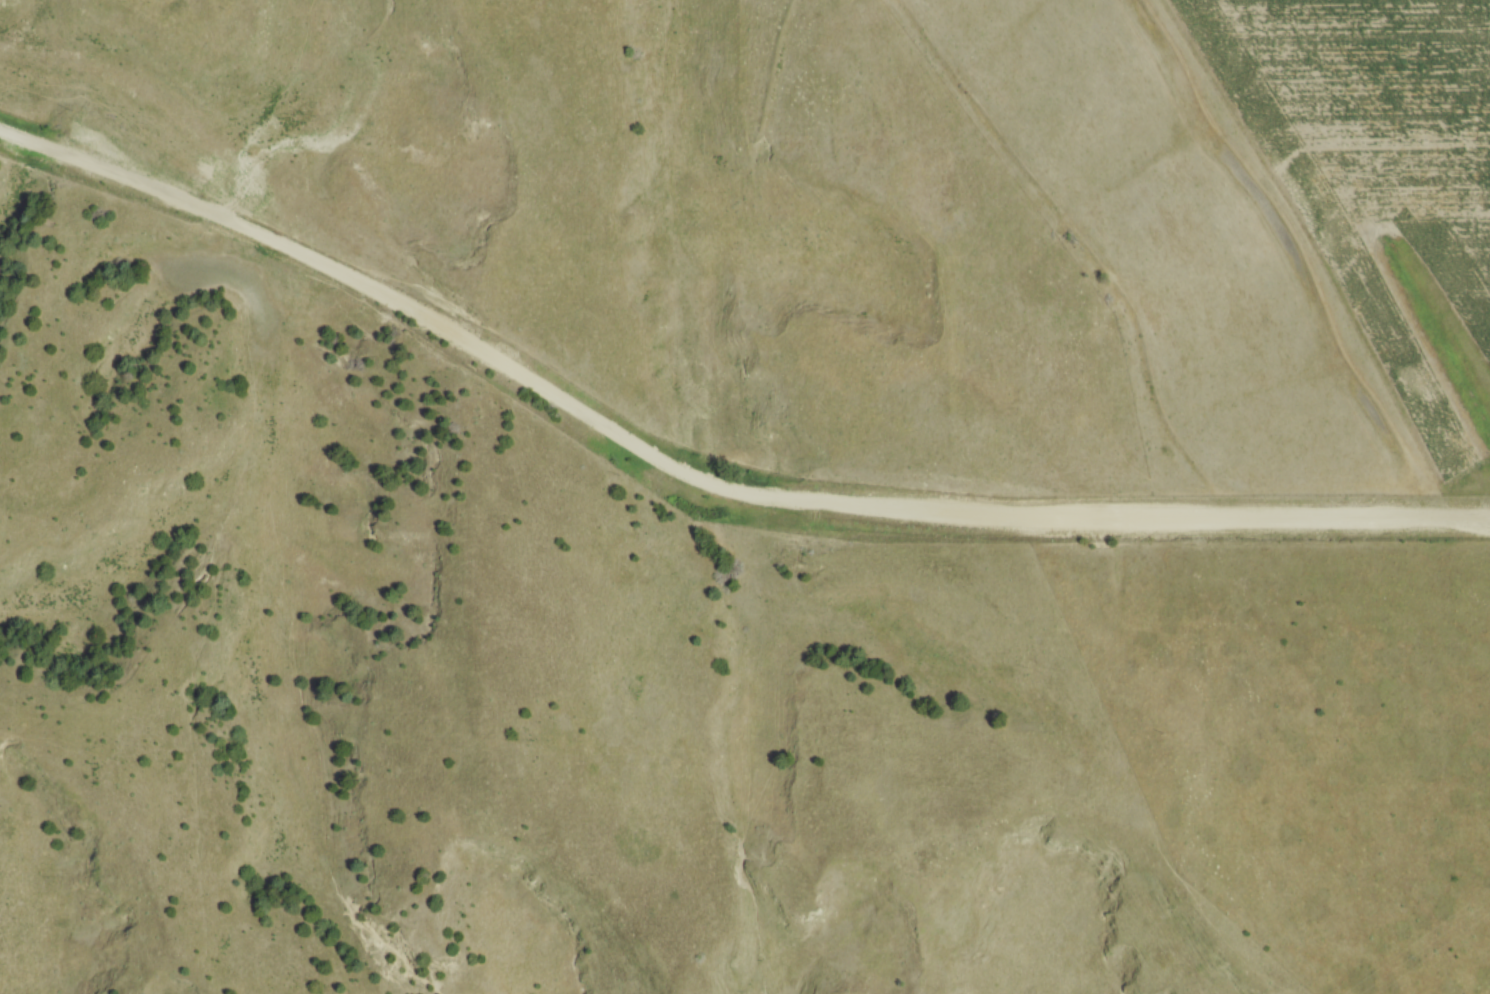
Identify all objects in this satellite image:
road: (703, 485)

